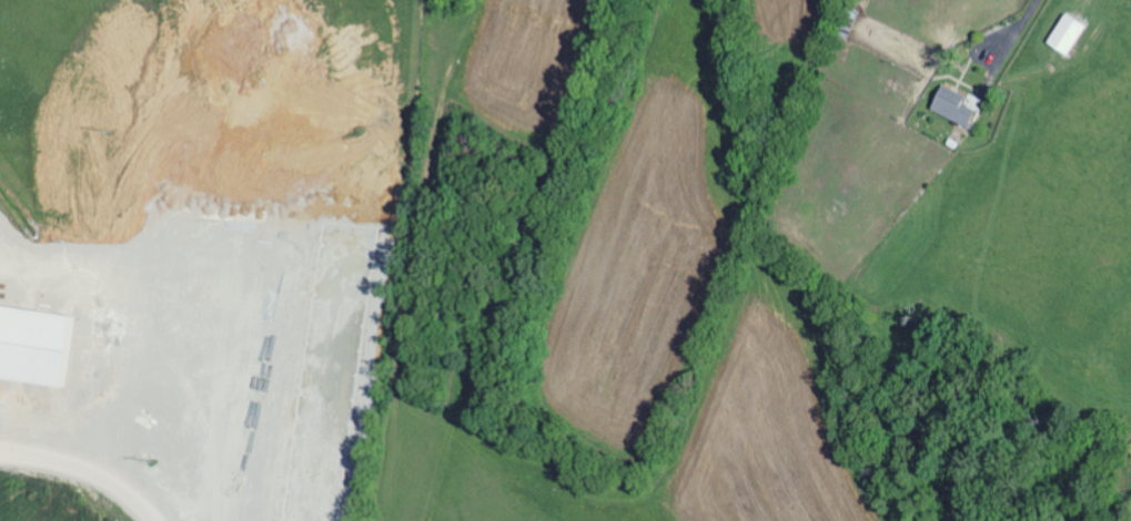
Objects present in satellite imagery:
building: (1063, 35)
building: (949, 106)
road: (78, 478)

